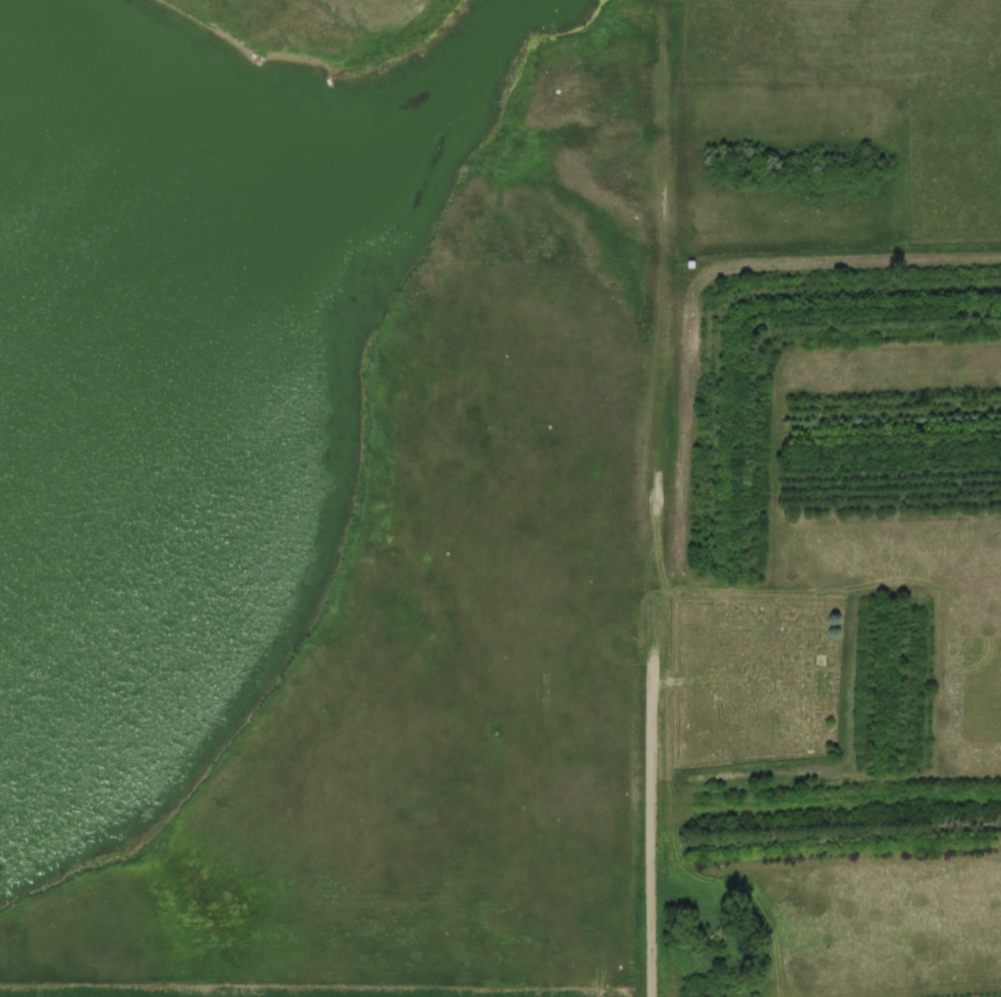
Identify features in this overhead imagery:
road: (655, 831)

